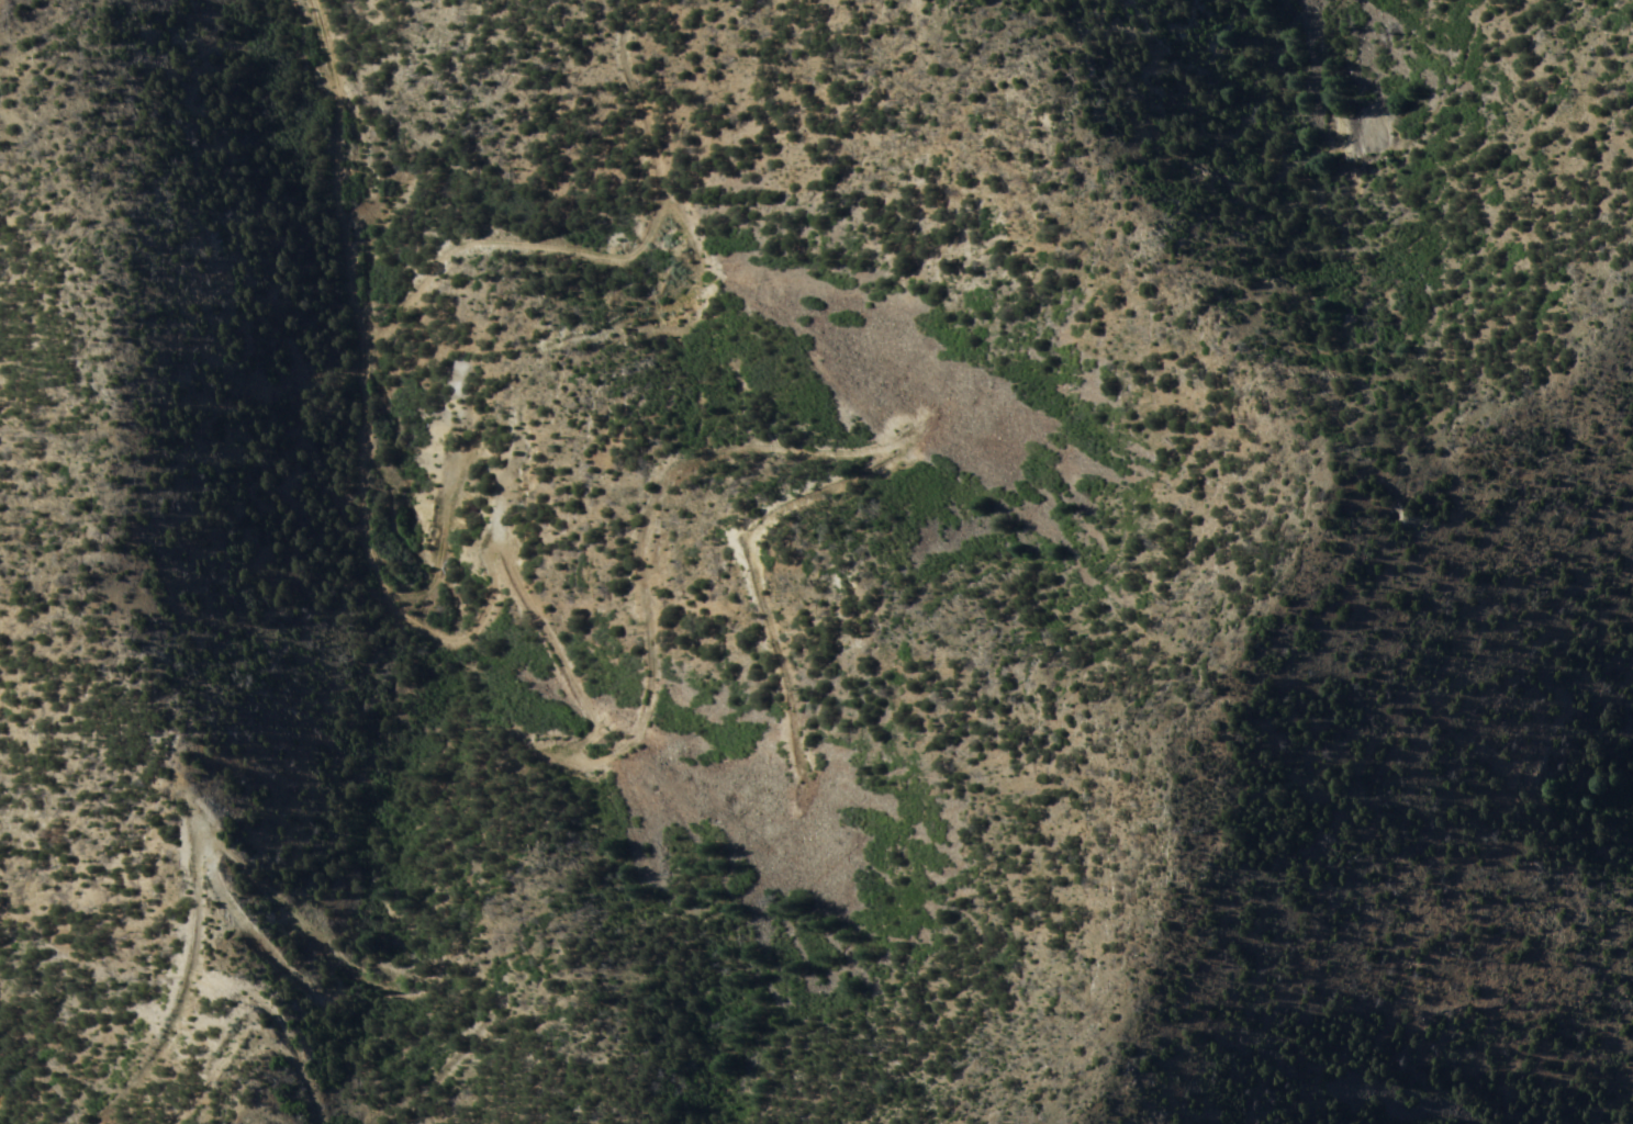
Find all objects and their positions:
road: (378, 310)

